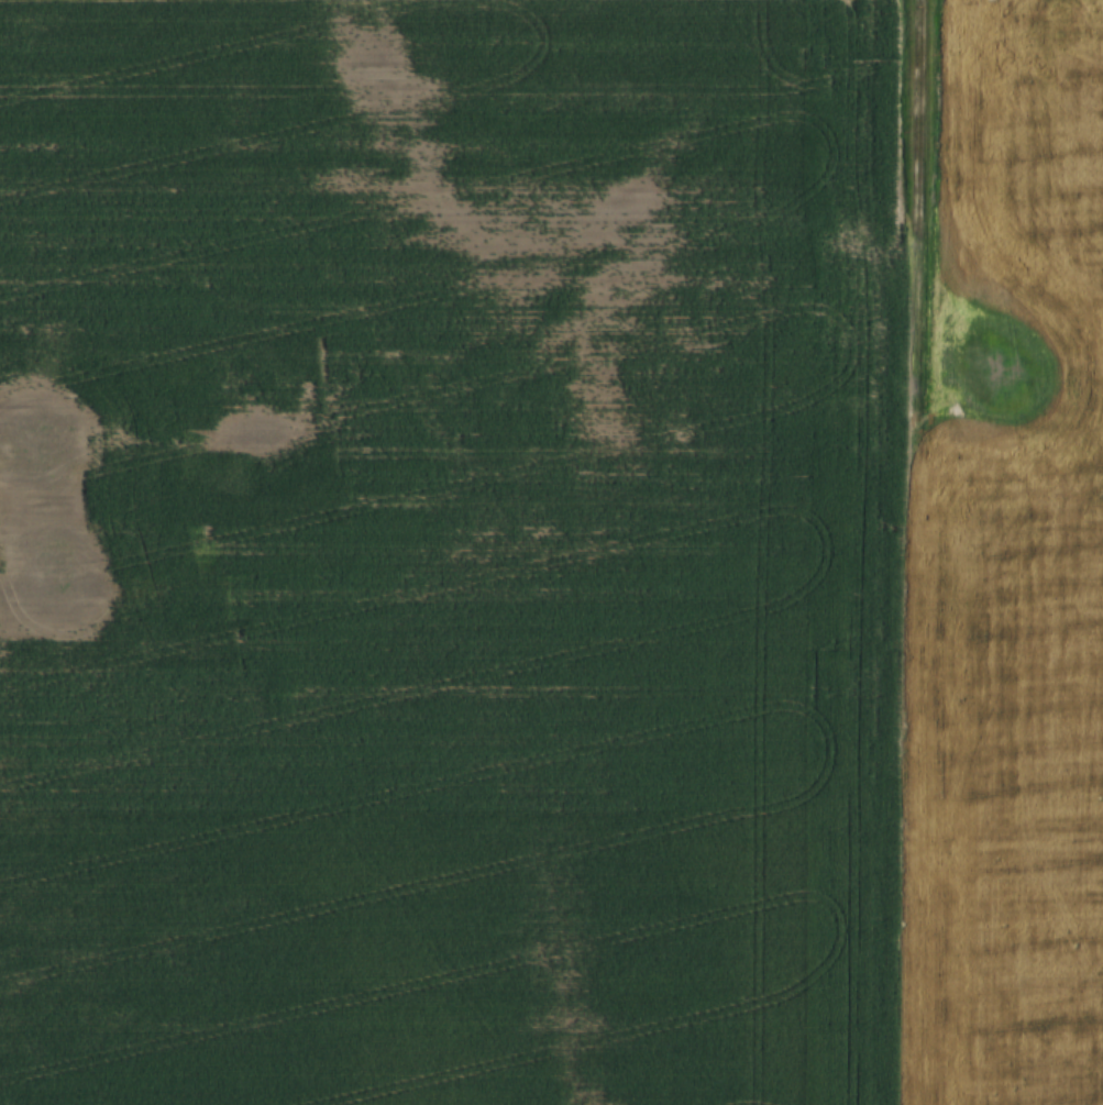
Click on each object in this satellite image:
road: (915, 552)

